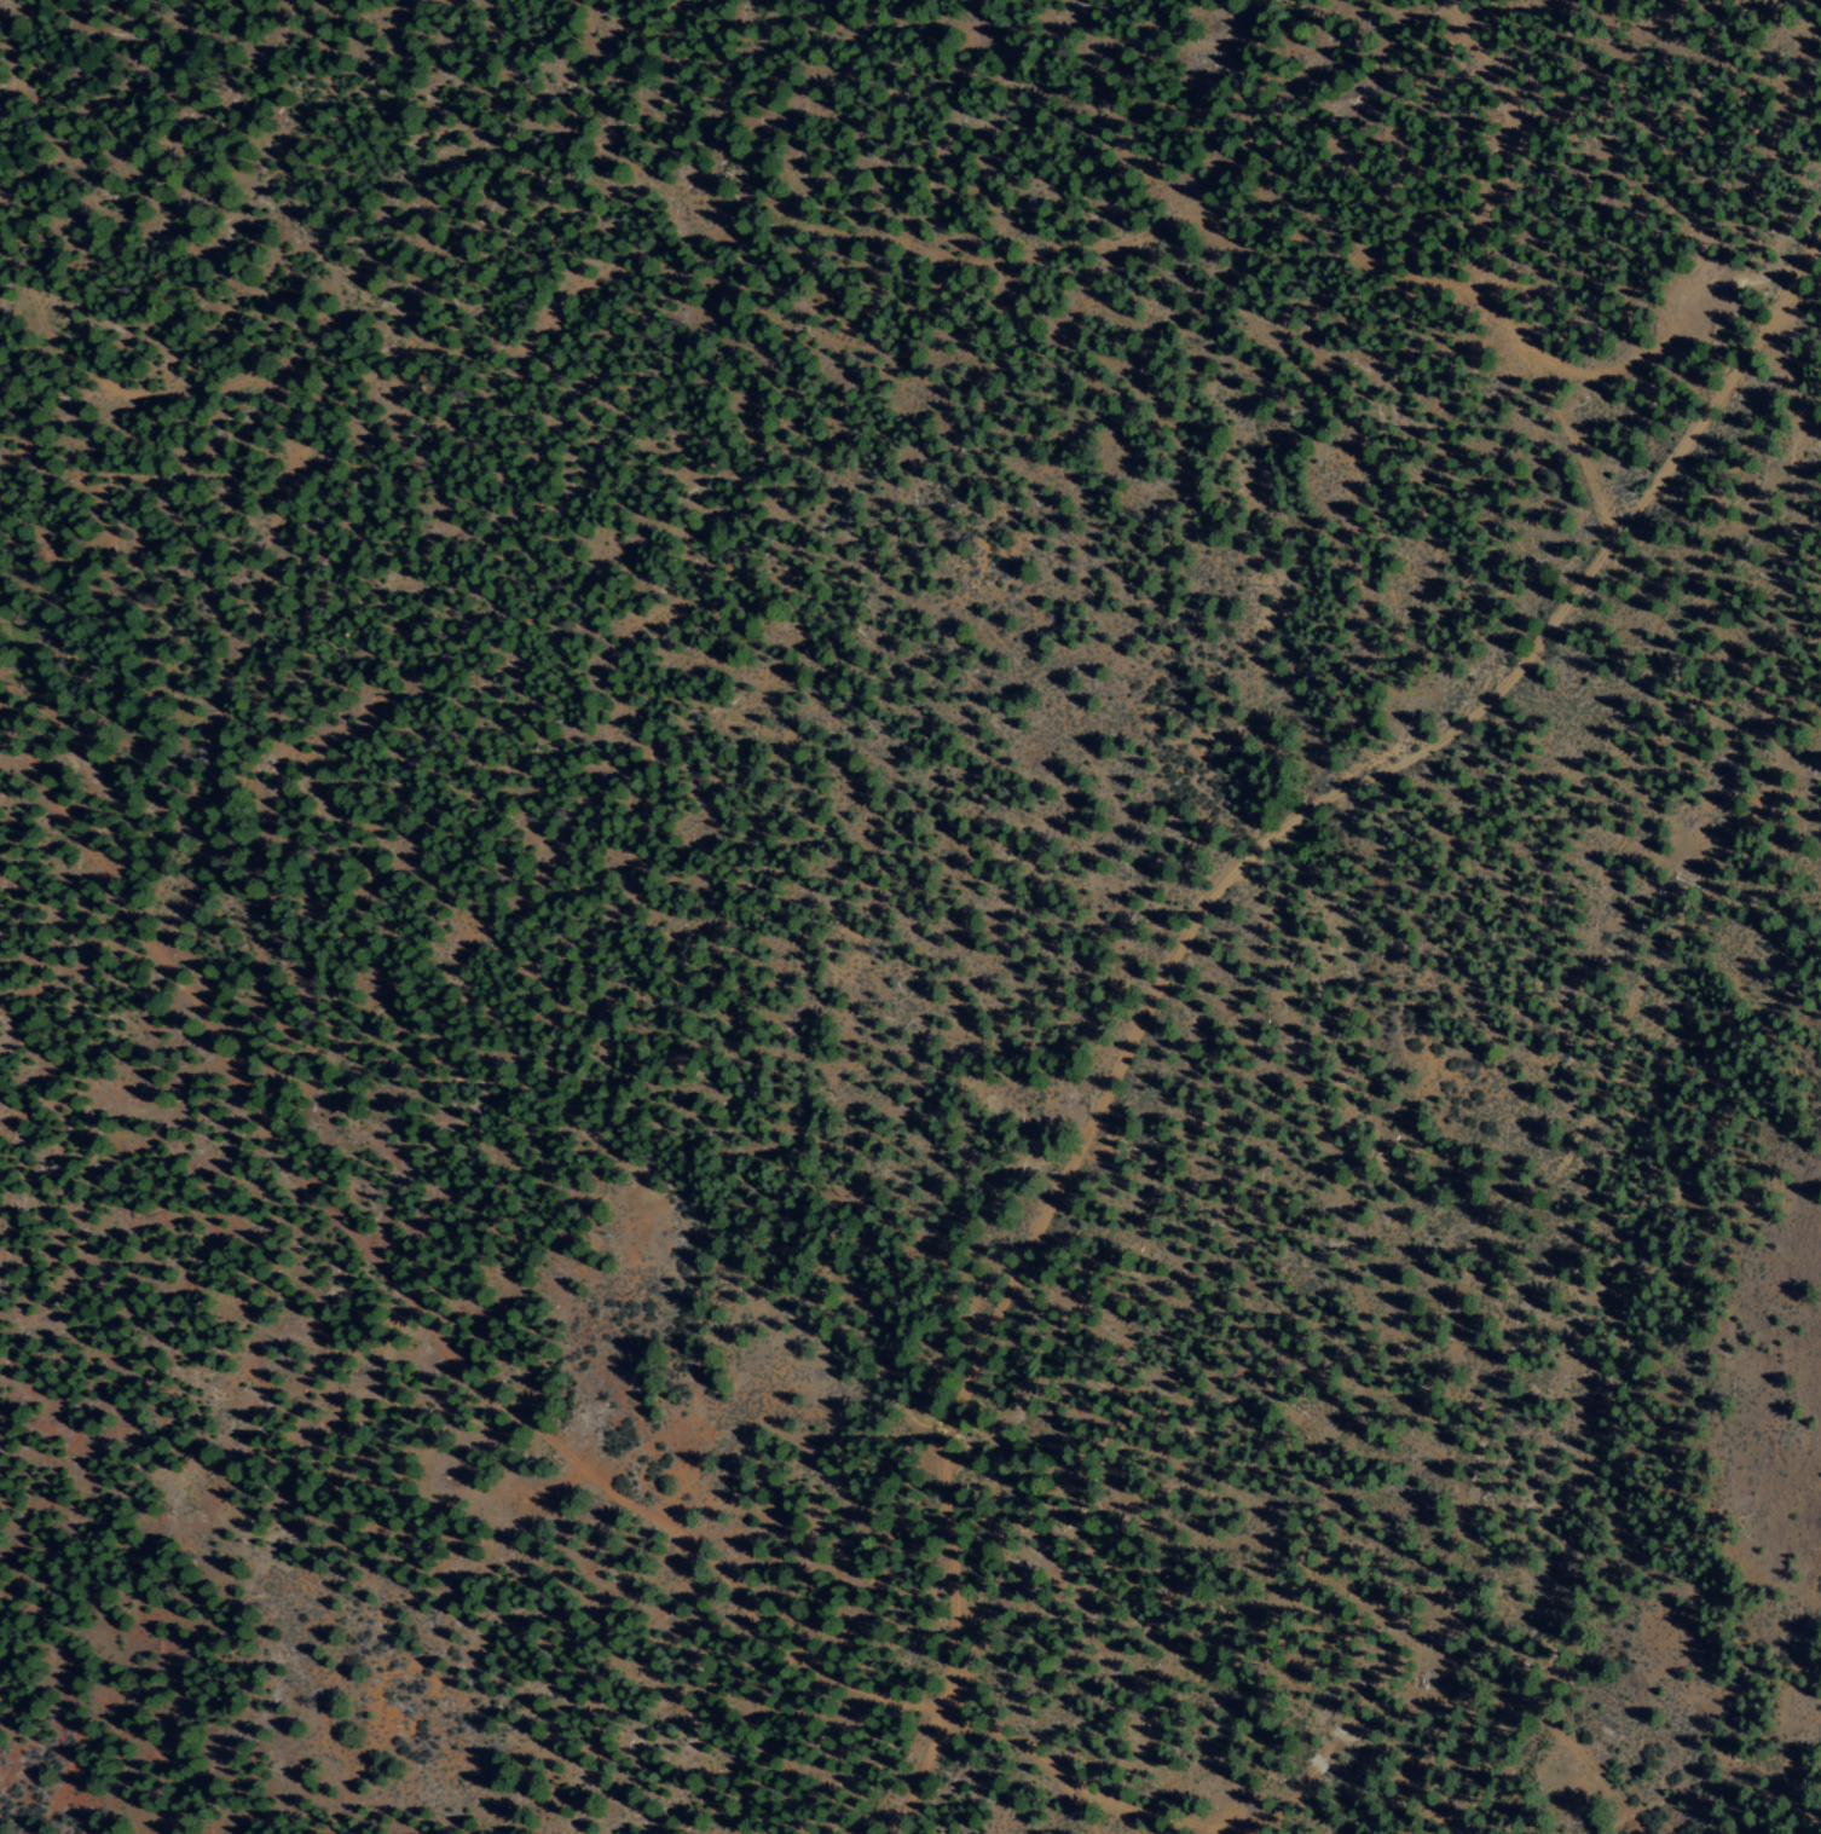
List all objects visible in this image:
road: (1213, 956)
road: (453, 1385)

